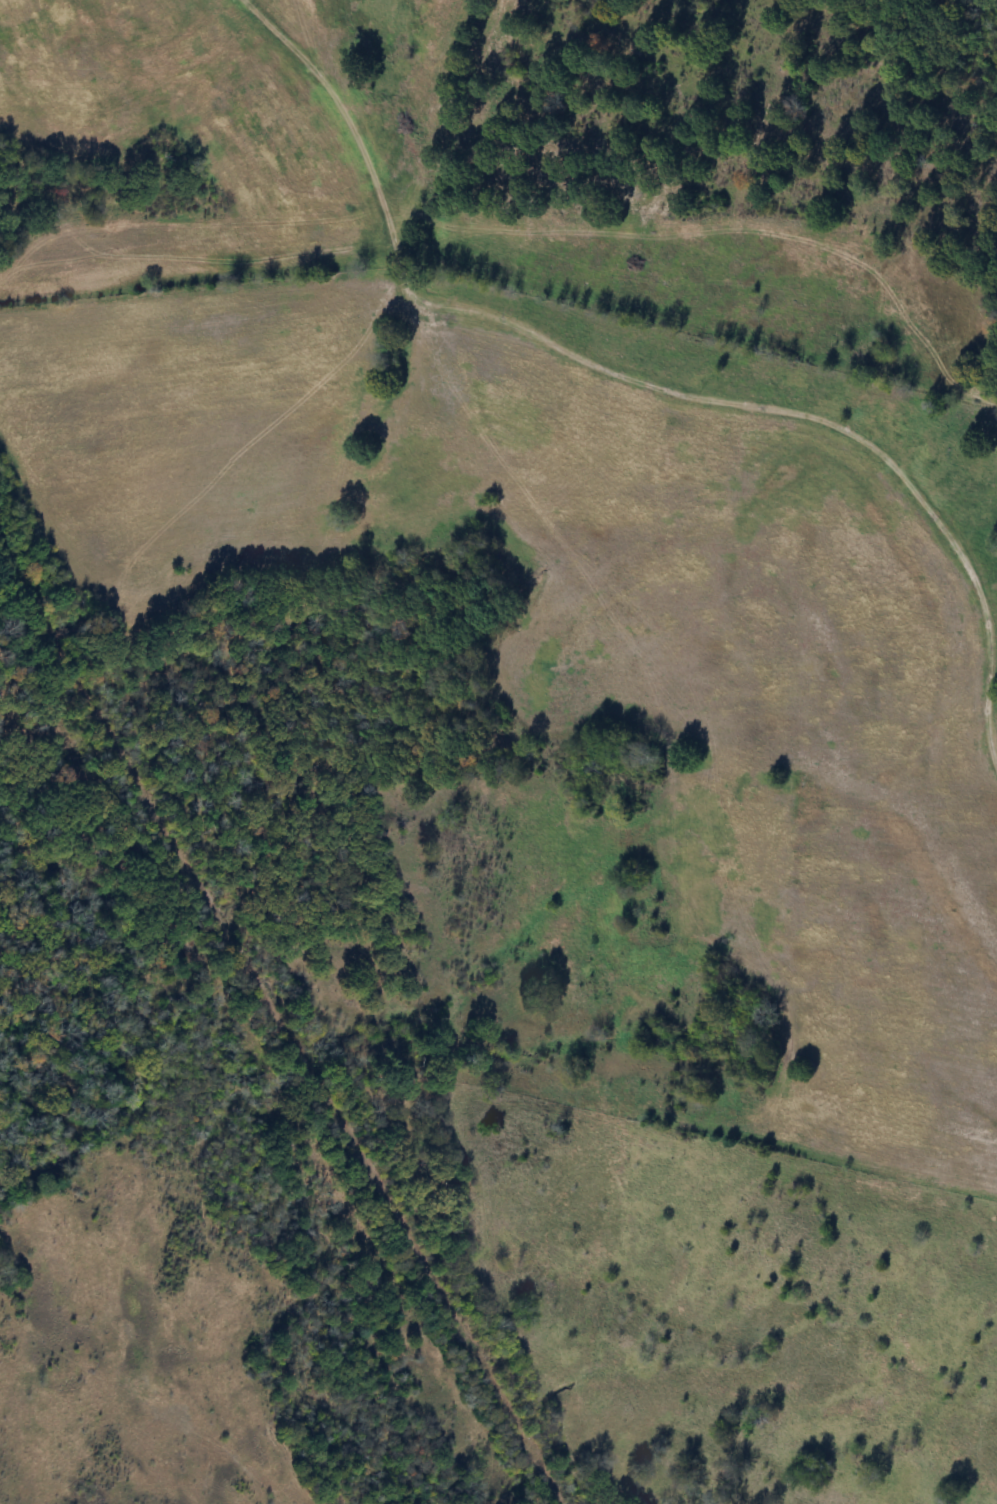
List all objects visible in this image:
railway: (284, 1020)

